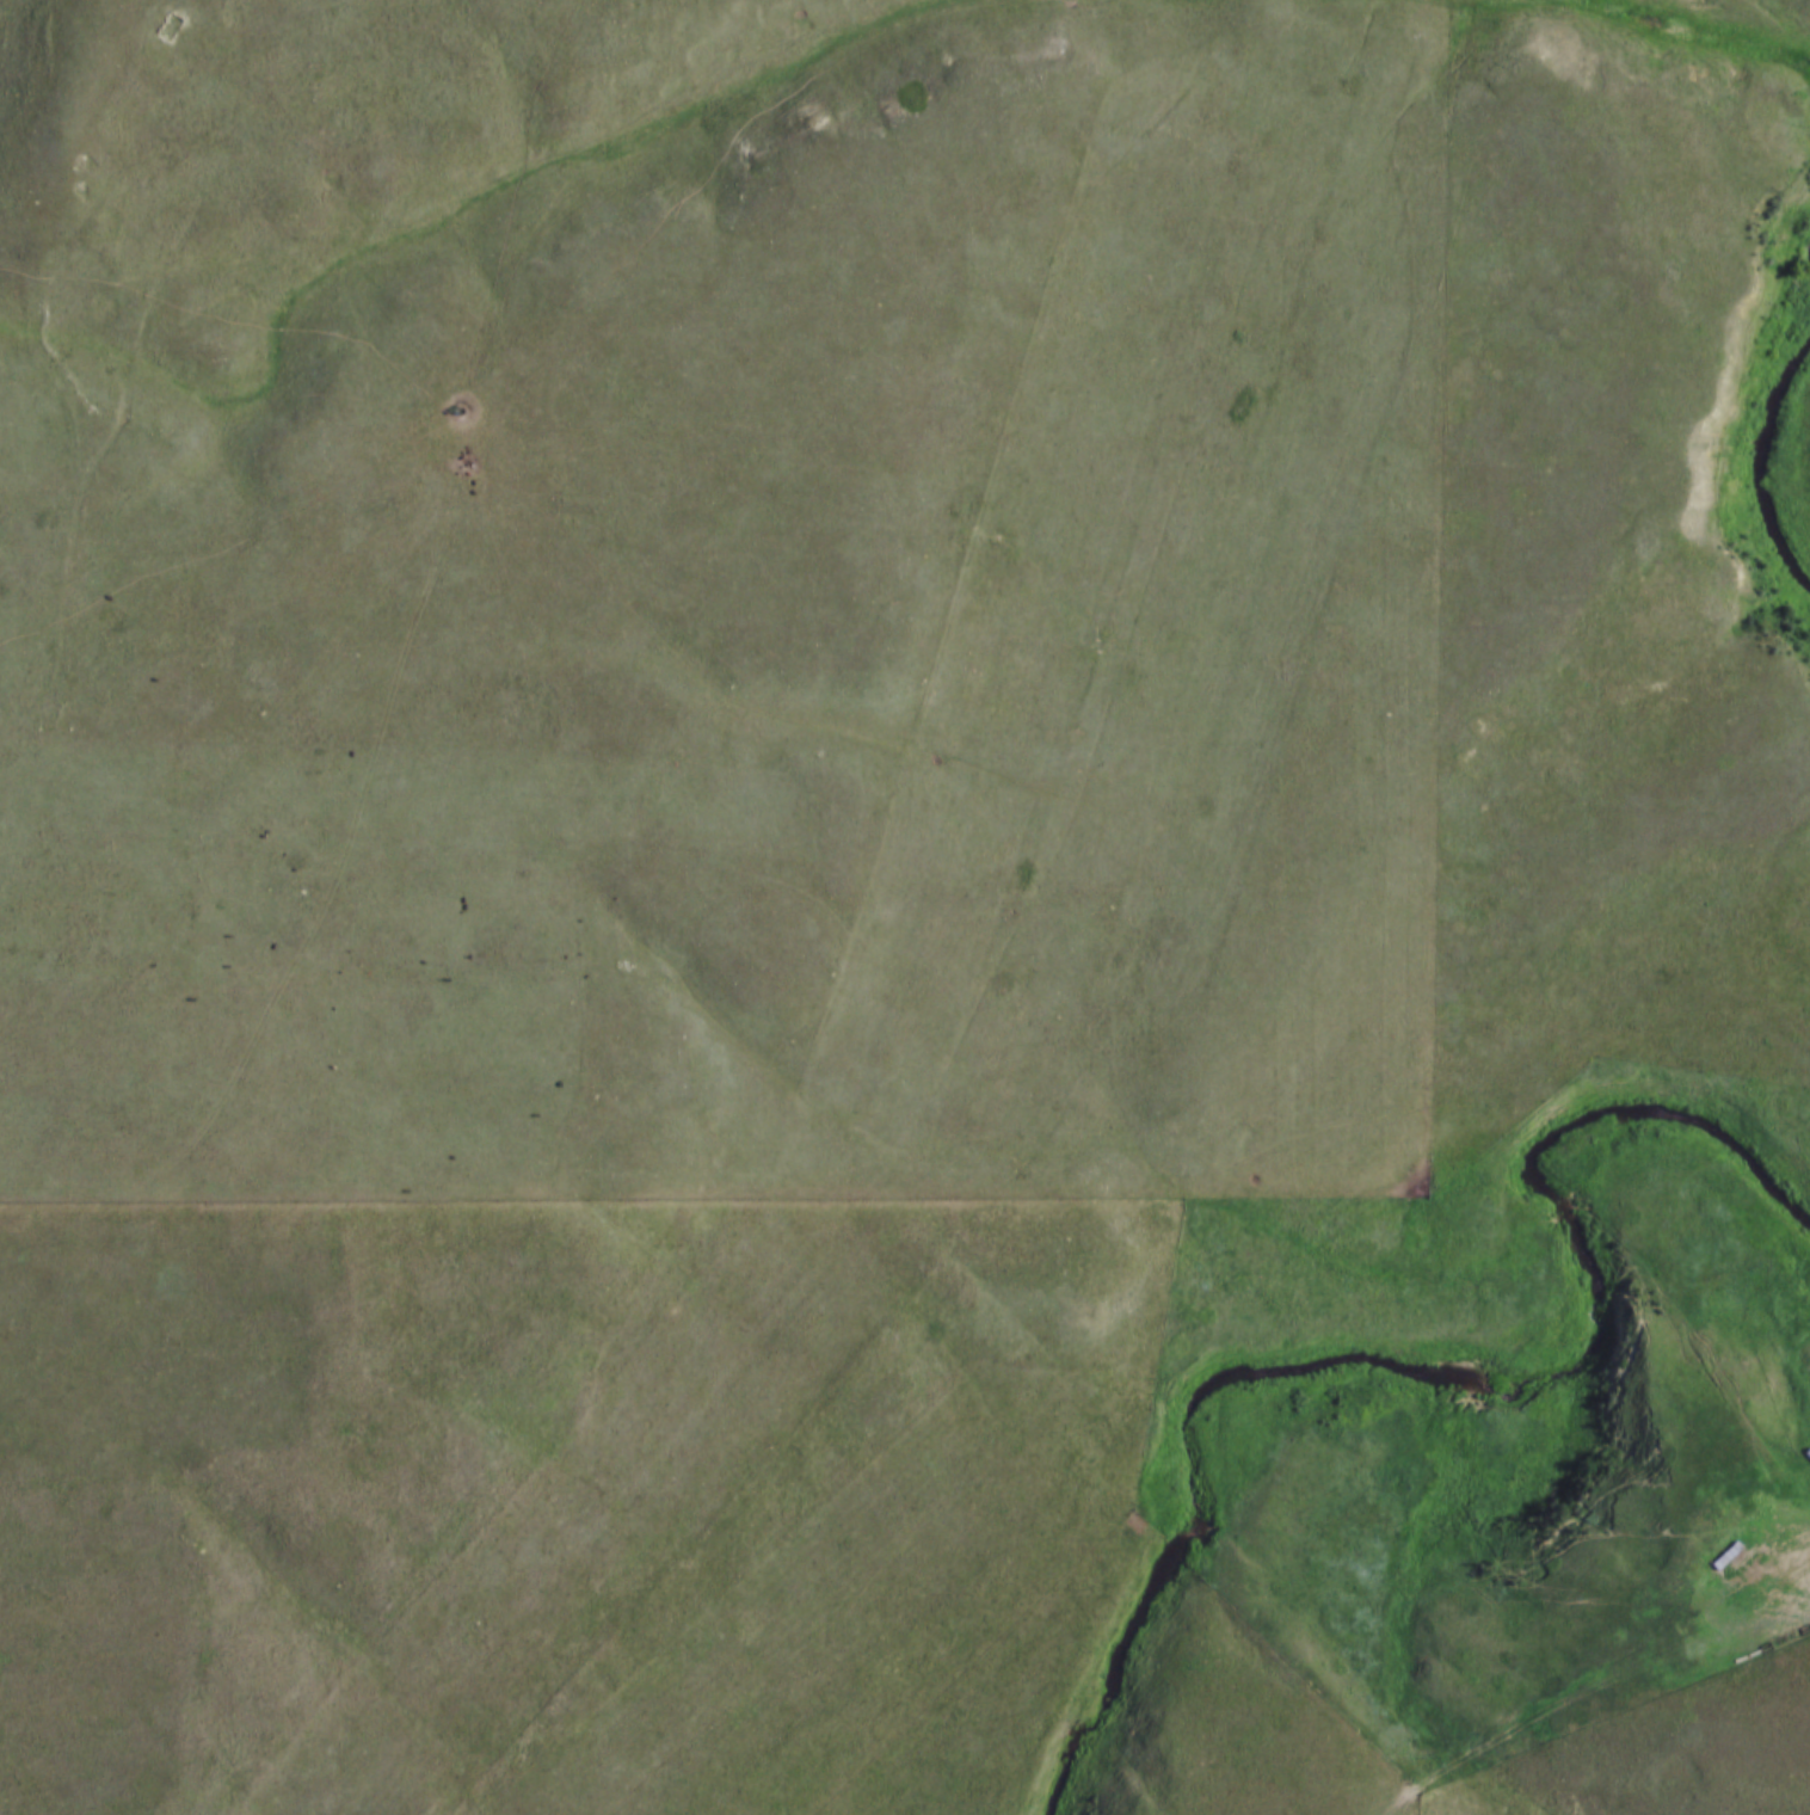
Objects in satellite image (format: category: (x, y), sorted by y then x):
building: (1768, 1550)

